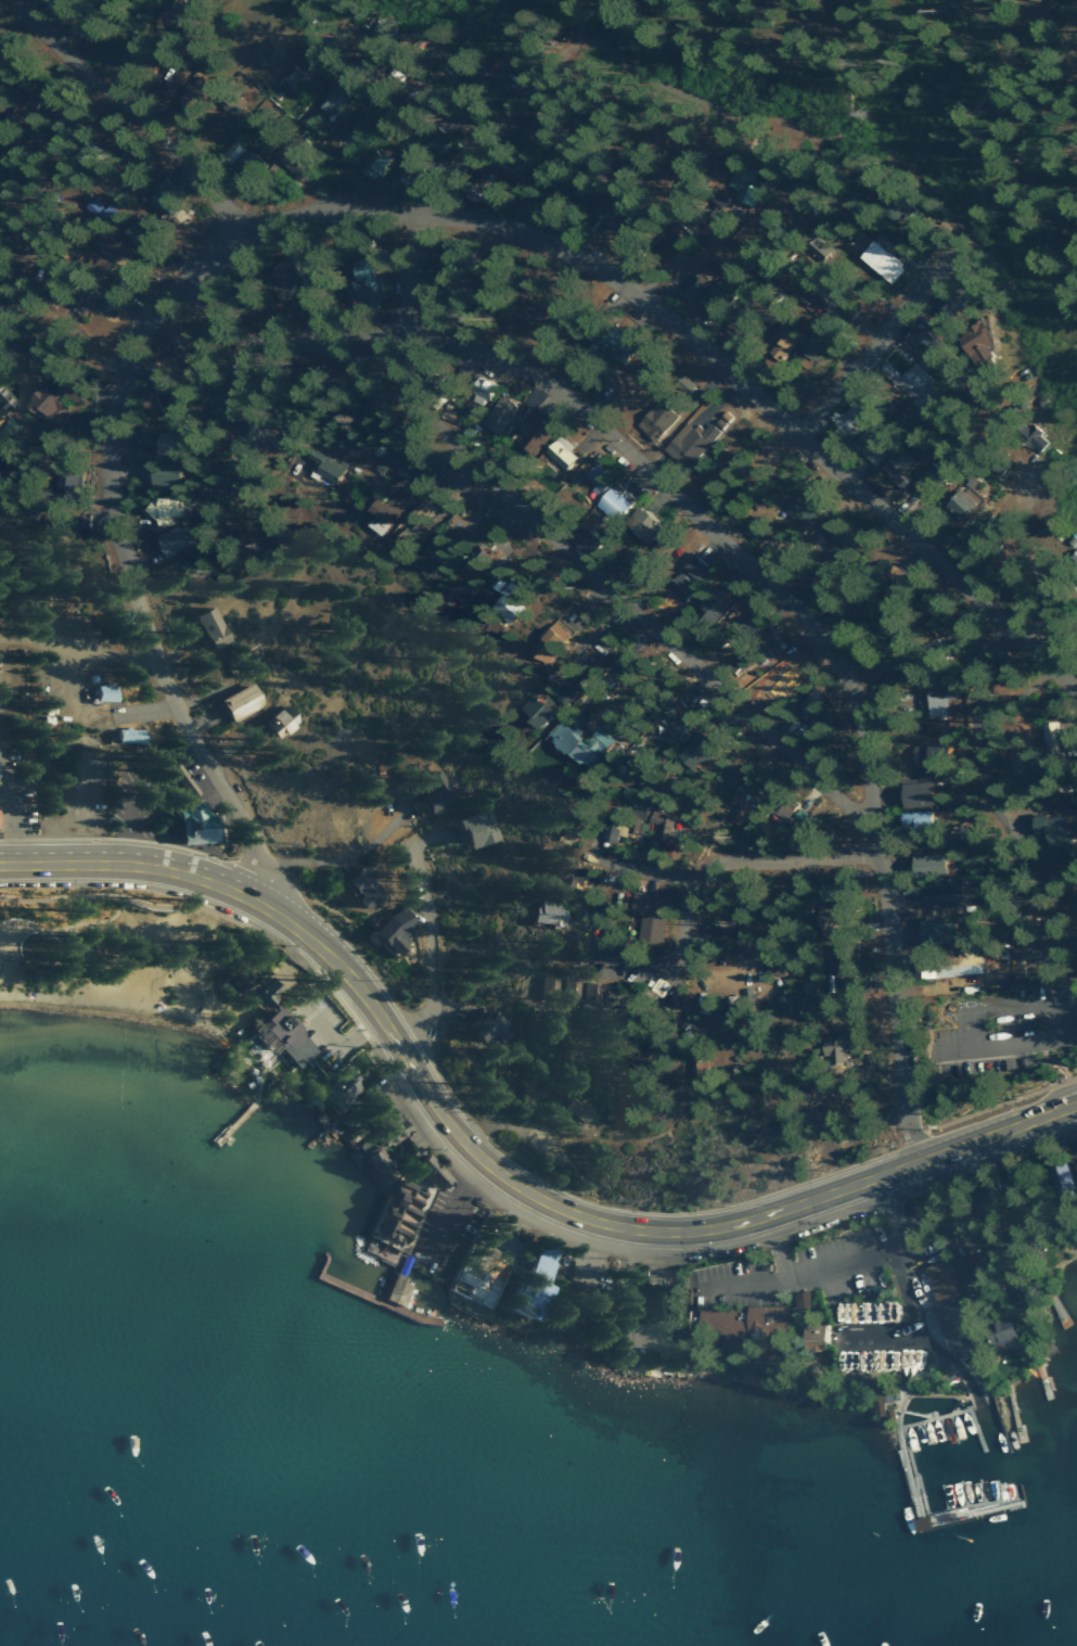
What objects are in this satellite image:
road: (718, 13)
road: (564, 20)
building: (187, 21)
road: (765, 30)
building: (293, 80)
building: (205, 91)
road: (689, 98)
building: (330, 100)
road: (443, 104)
road: (127, 113)
building: (361, 119)
road: (995, 139)
building: (436, 141)
building: (297, 161)
road: (453, 173)
building: (743, 184)
building: (170, 201)
road: (368, 210)
building: (604, 212)
building: (675, 233)
building: (153, 237)
building: (816, 248)
building: (880, 260)
building: (689, 289)
road: (54, 330)
road: (876, 330)
building: (613, 343)
building: (922, 343)
building: (972, 343)
building: (808, 349)
building: (912, 385)
building: (479, 390)
building: (178, 393)
building: (67, 396)
building: (498, 417)
building: (655, 421)
building: (536, 430)
building: (1031, 438)
building: (689, 442)
building: (179, 444)
building: (868, 449)
building: (559, 452)
building: (895, 465)
building: (328, 467)
building: (177, 477)
building: (602, 492)
building: (961, 501)
building: (170, 509)
building: (382, 511)
building: (640, 524)
building: (183, 539)
road: (739, 554)
building: (694, 566)
building: (1070, 566)
building: (492, 583)
road: (603, 584)
building: (710, 604)
building: (497, 607)
building: (211, 628)
building: (544, 638)
building: (767, 638)
road: (73, 645)
building: (242, 661)
building: (772, 681)
building: (561, 692)
building: (107, 693)
building: (932, 699)
building: (233, 702)
building: (529, 710)
road: (974, 717)
building: (272, 722)
building: (674, 723)
building: (1050, 731)
building: (125, 736)
building: (575, 743)
building: (695, 751)
building: (923, 763)
building: (179, 779)
road: (134, 788)
building: (424, 789)
building: (912, 793)
road: (11, 803)
building: (738, 808)
building: (0, 817)
building: (638, 820)
building: (185, 821)
building: (661, 826)
building: (464, 827)
building: (613, 829)
building: (1048, 831)
road: (334, 859)
road: (726, 862)
road: (126, 863)
building: (925, 864)
road: (640, 868)
building: (565, 879)
building: (355, 885)
building: (825, 891)
building: (937, 894)
building: (541, 911)
building: (648, 917)
building: (822, 920)
building: (934, 929)
building: (386, 930)
park: (105, 953)
road: (751, 953)
road: (427, 956)
road: (620, 965)
building: (945, 967)
building: (234, 978)
building: (555, 988)
building: (586, 993)
building: (606, 996)
building: (782, 1000)
road: (964, 1025)
building: (478, 1026)
building: (279, 1036)
building: (832, 1049)
pier: (239, 1114)
building: (385, 1133)
pier: (318, 1135)
building: (369, 1160)
building: (1074, 1160)
building: (416, 1167)
building: (1057, 1176)
building: (987, 1205)
road: (600, 1228)
road: (780, 1247)
road: (833, 1262)
road: (631, 1269)
building: (963, 1273)
building: (523, 1278)
pier: (339, 1285)
pier: (1053, 1301)
pier: (385, 1305)
building: (946, 1307)
road: (910, 1323)
building: (644, 1324)
building: (746, 1327)
building: (998, 1335)
building: (812, 1337)
road: (936, 1349)
building: (900, 1357)
pier: (1041, 1374)
pier: (953, 1411)
pier: (1015, 1411)
pier: (922, 1513)
building: (921, 1523)

